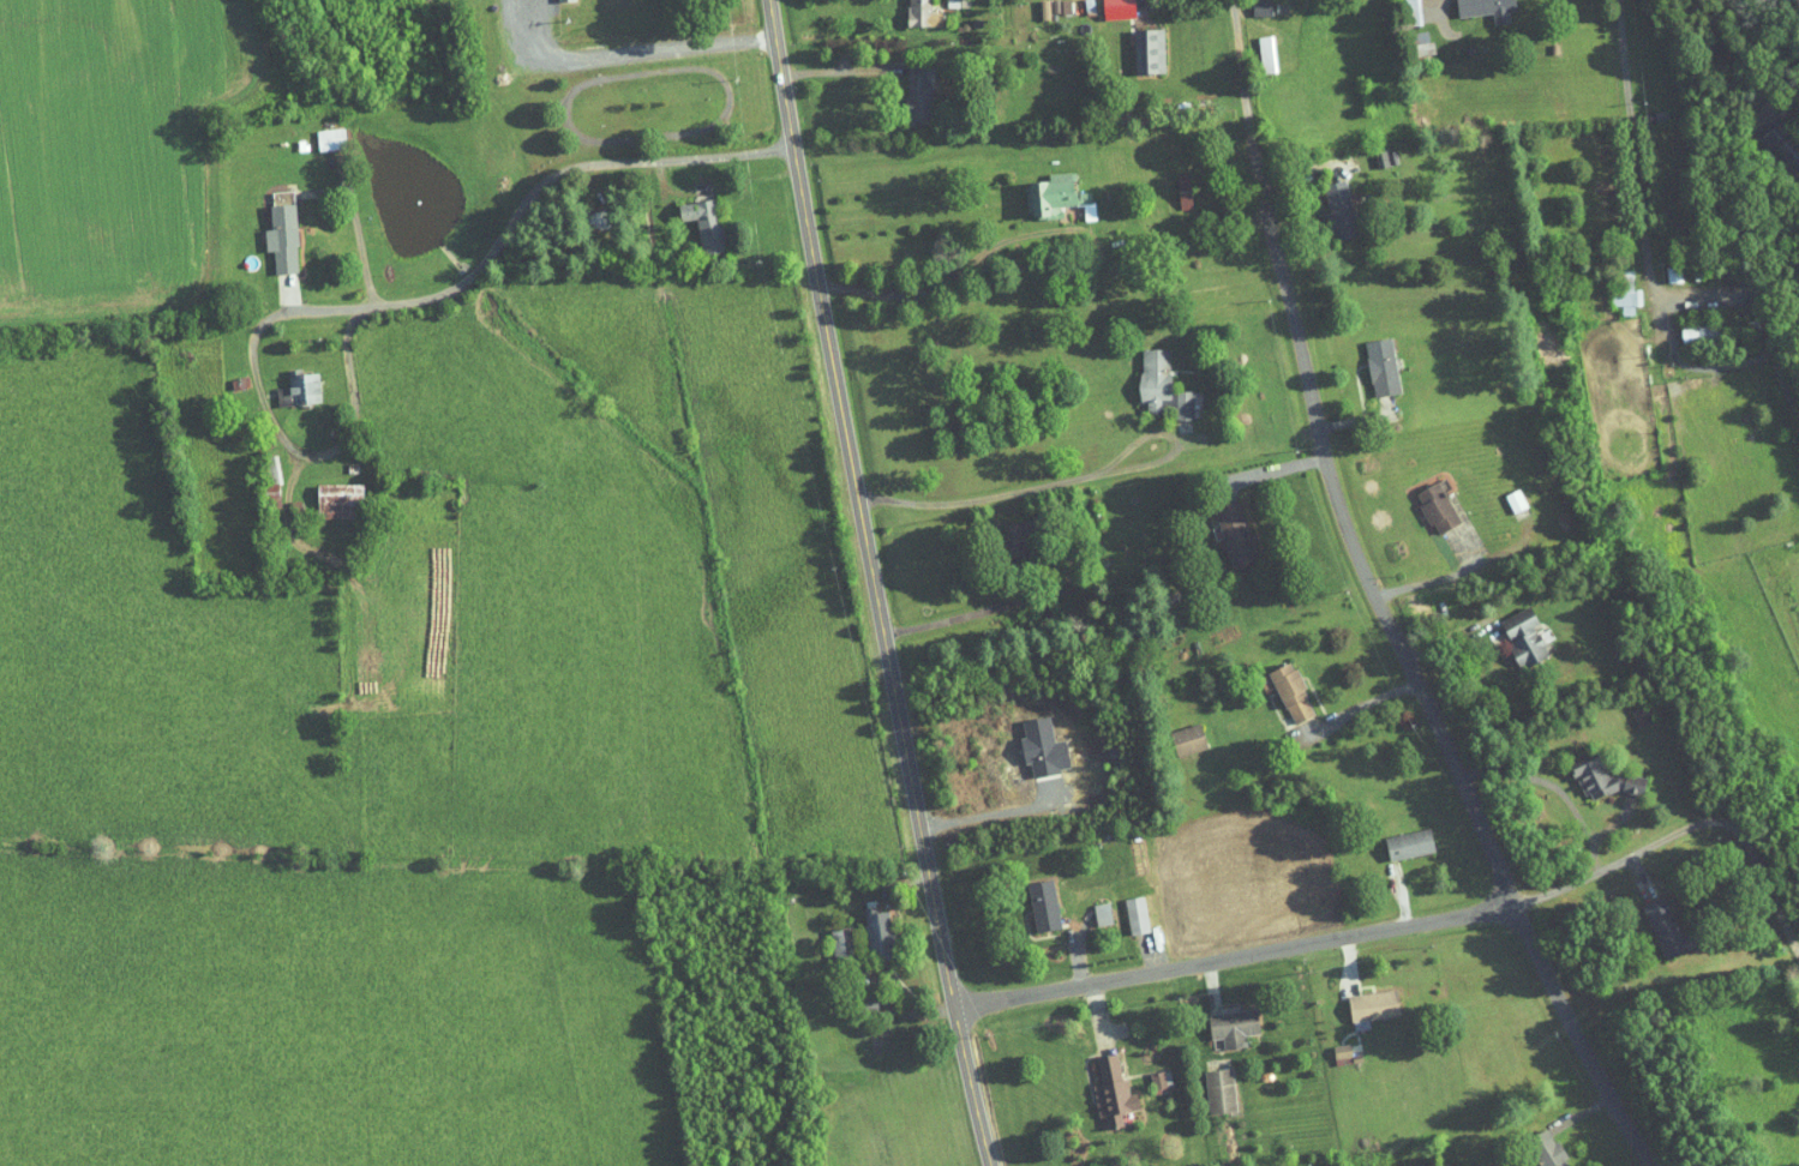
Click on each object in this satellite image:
building: (1248, 4)
building: (1105, 5)
building: (1453, 7)
building: (1399, 8)
road: (1162, 19)
building: (1410, 36)
building: (1135, 42)
road: (654, 43)
building: (1254, 46)
road: (1729, 48)
road: (527, 53)
road: (847, 70)
building: (905, 88)
building: (317, 131)
building: (1773, 139)
road: (592, 144)
road: (1294, 180)
building: (1171, 182)
road: (742, 187)
building: (1047, 188)
building: (1329, 203)
road: (521, 214)
building: (691, 216)
road: (1645, 218)
road: (342, 221)
building: (269, 230)
road: (947, 271)
building: (1614, 286)
building: (1685, 324)
building: (1369, 359)
building: (1149, 377)
building: (286, 381)
road: (1345, 415)
road: (316, 456)
road: (1249, 477)
road: (1026, 489)
building: (324, 492)
building: (1503, 493)
building: (1425, 499)
building: (1222, 525)
building: (1003, 531)
road: (1420, 557)
road: (875, 584)
road: (1379, 603)
road: (957, 615)
building: (1511, 630)
building: (1279, 685)
road: (1363, 685)
road: (1464, 692)
building: (1176, 732)
building: (1030, 741)
building: (1588, 770)
road: (1527, 801)
road: (985, 805)
road: (1690, 825)
building: (1397, 836)
road: (1398, 895)
building: (1031, 898)
building: (1090, 906)
building: (1123, 908)
building: (1651, 920)
building: (865, 925)
building: (828, 936)
road: (961, 940)
road: (1235, 954)
road: (1377, 956)
road: (1266, 976)
building: (1360, 999)
building: (1221, 1020)
building: (1329, 1047)
building: (1149, 1072)
road: (1000, 1080)
building: (1207, 1083)
building: (1099, 1084)
road: (1582, 1112)
building: (1536, 1146)

